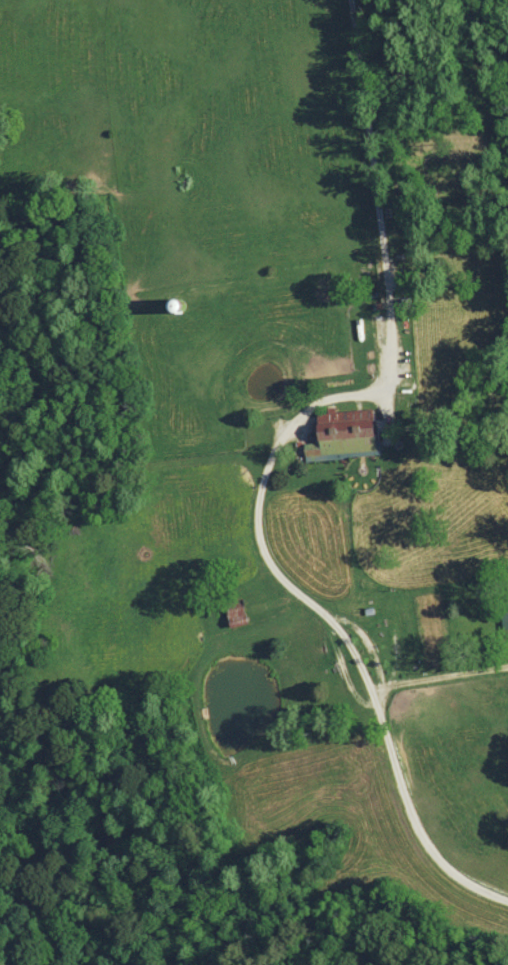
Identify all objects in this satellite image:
building: (171, 305)
building: (340, 435)
building: (234, 612)
road: (332, 625)

